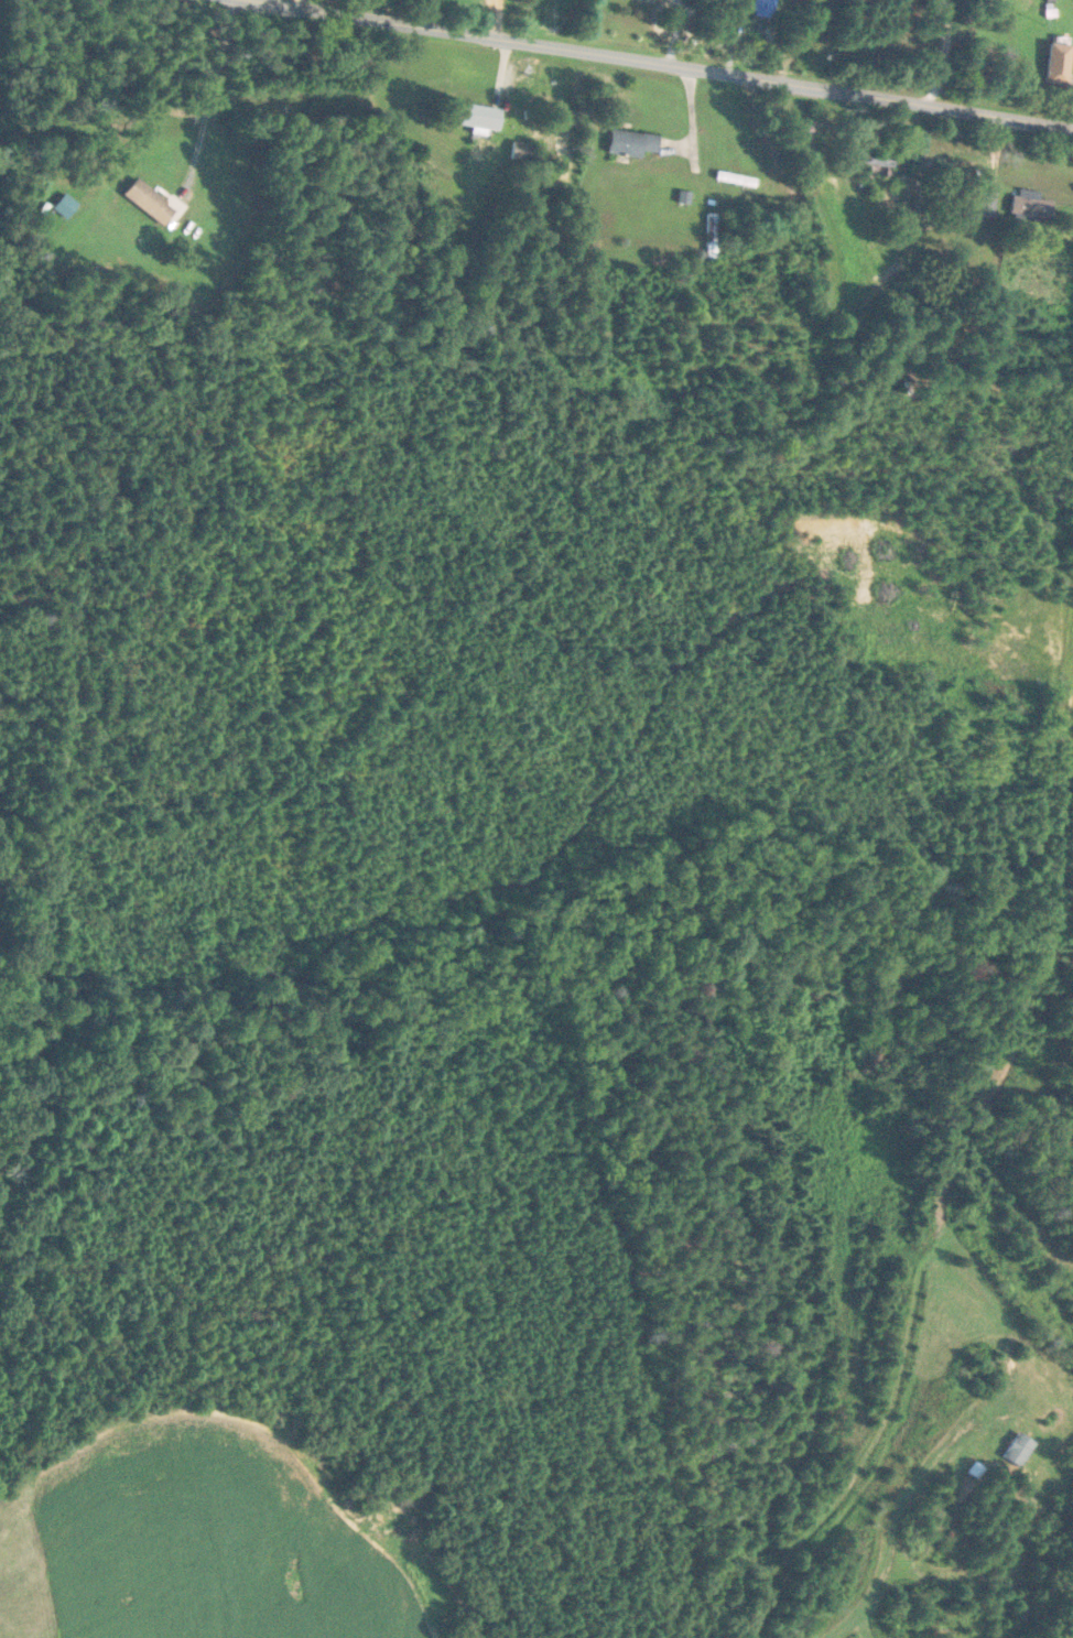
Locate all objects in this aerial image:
road: (300, 3)
building: (767, 8)
road: (659, 63)
building: (1059, 64)
building: (481, 117)
building: (808, 131)
building: (635, 144)
building: (875, 167)
building: (737, 180)
building: (984, 200)
building: (152, 203)
building: (67, 207)
building: (1032, 208)
building: (712, 237)
road: (1072, 747)
building: (1020, 1450)
road: (867, 1462)
road: (906, 1503)

